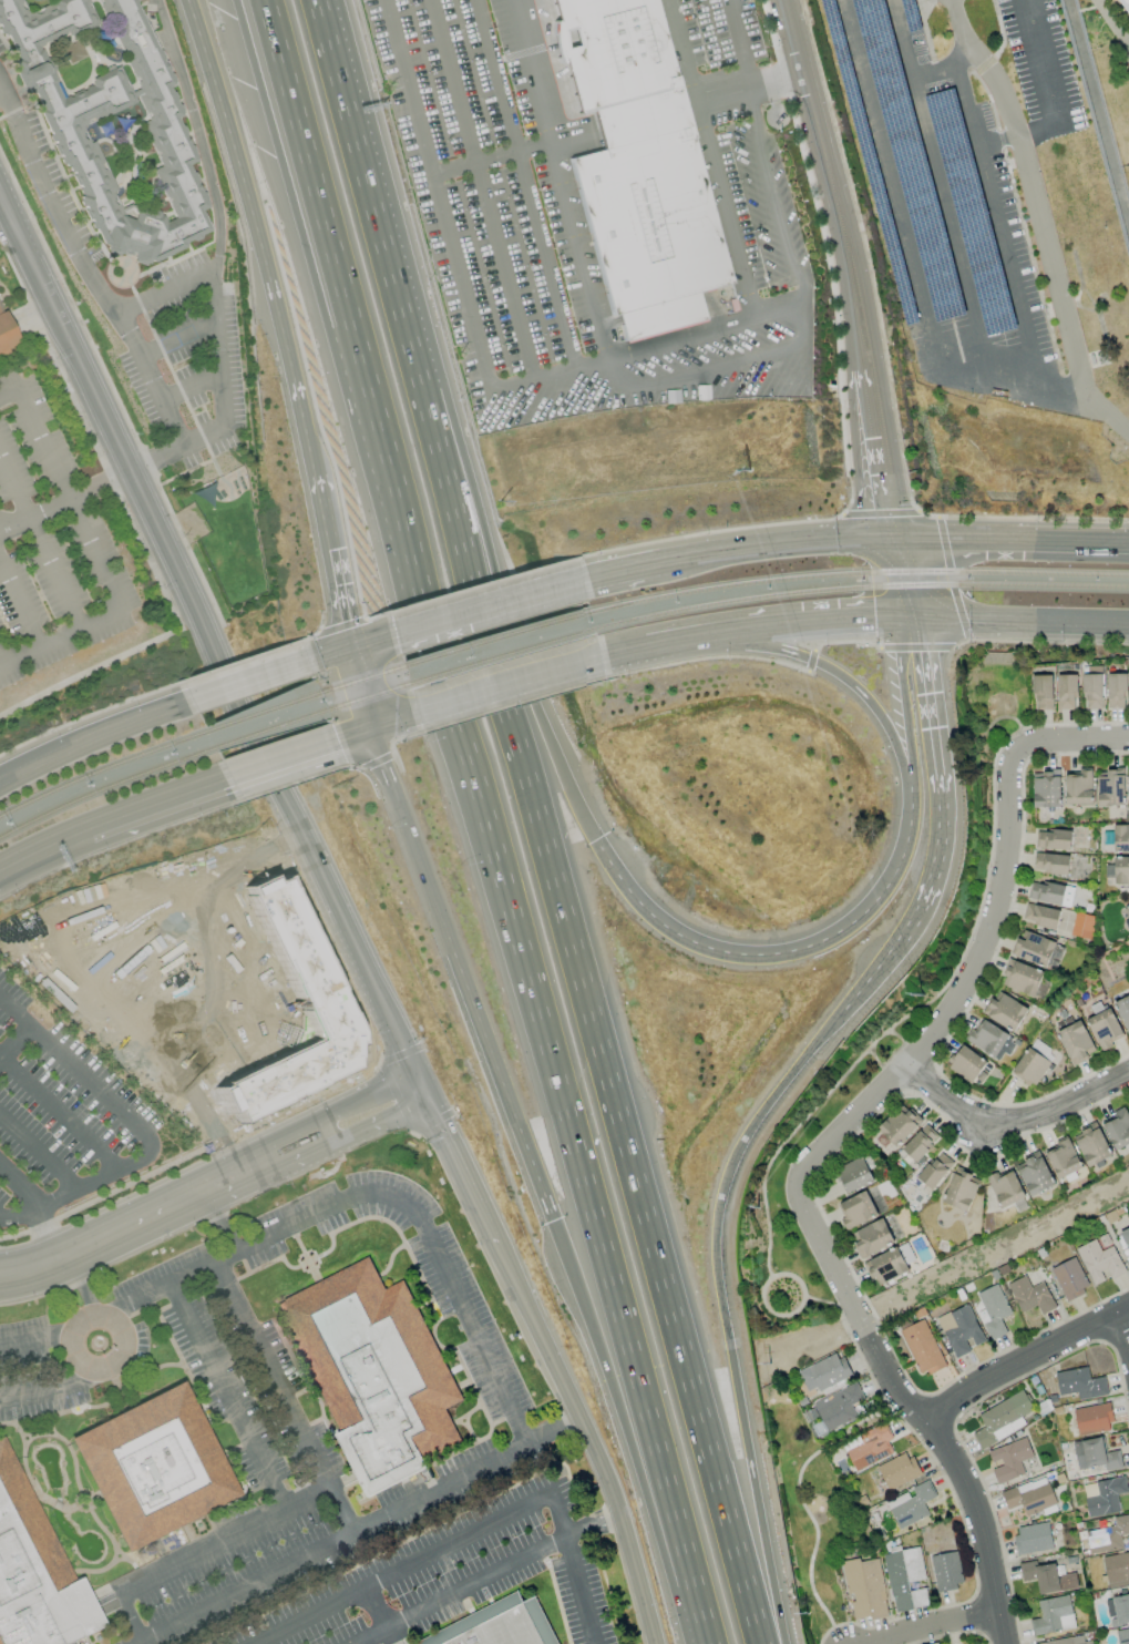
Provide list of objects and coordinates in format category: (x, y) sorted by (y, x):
building: (1126, 4)
road: (1108, 17)
road: (1040, 61)
road: (944, 68)
road: (741, 88)
road: (2, 90)
road: (638, 118)
building: (66, 132)
road: (574, 134)
road: (1017, 134)
road: (197, 135)
road: (492, 157)
building: (638, 167)
road: (239, 170)
road: (525, 183)
road: (940, 187)
road: (482, 190)
road: (368, 194)
road: (1032, 196)
road: (3, 216)
road: (730, 225)
road: (998, 225)
road: (910, 254)
road: (454, 258)
road: (84, 265)
road: (851, 265)
road: (164, 292)
road: (778, 306)
building: (6, 334)
road: (178, 337)
road: (217, 347)
road: (684, 372)
road: (192, 388)
road: (8, 396)
road: (299, 401)
road: (176, 448)
road: (381, 491)
road: (69, 501)
road: (65, 502)
road: (134, 529)
traffic signals: (946, 539)
road: (963, 539)
parking lot: (58, 540)
road: (1082, 541)
road: (40, 543)
road: (770, 545)
road: (331, 555)
road: (623, 570)
railway: (863, 573)
road: (907, 578)
road: (894, 579)
railway: (865, 588)
road: (493, 604)
road: (19, 607)
traffic signals: (879, 621)
road: (1014, 621)
traffic signals: (345, 623)
road: (810, 625)
road: (511, 629)
traffic signals: (394, 634)
railway: (502, 637)
road: (60, 639)
road: (372, 641)
road: (212, 642)
road: (684, 642)
traffic signals: (925, 649)
road: (335, 653)
road: (629, 653)
railway: (506, 655)
railway: (369, 677)
road: (253, 681)
road: (513, 684)
road: (361, 687)
building: (1092, 690)
building: (1116, 691)
building: (1043, 692)
building: (1066, 692)
road: (864, 694)
railway: (373, 695)
railway: (268, 711)
road: (1009, 717)
road: (393, 721)
road: (1074, 724)
railway: (275, 728)
road: (365, 729)
road: (909, 729)
traffic signals: (357, 733)
road: (92, 739)
road: (1012, 743)
road: (992, 748)
road: (290, 755)
railway: (100, 770)
building: (1128, 780)
road: (942, 785)
building: (1078, 787)
building: (1046, 788)
building: (1109, 788)
railway: (102, 790)
road: (484, 790)
road: (154, 800)
building: (1121, 837)
building: (1053, 839)
road: (41, 845)
road: (1003, 858)
building: (1050, 862)
road: (988, 867)
building: (1121, 869)
building: (1046, 892)
building: (1127, 910)
building: (1040, 915)
building: (1081, 926)
building: (1037, 950)
road: (768, 954)
building: (298, 959)
road: (464, 974)
road: (873, 977)
building: (1020, 977)
building: (1005, 1010)
building: (1123, 1011)
road: (591, 1015)
building: (1102, 1024)
road: (900, 1038)
building: (991, 1040)
building: (1074, 1040)
road: (14, 1042)
road: (901, 1058)
building: (966, 1063)
road: (880, 1064)
building: (1030, 1066)
road: (361, 1094)
road: (58, 1112)
parking lot: (66, 1113)
road: (1012, 1121)
road: (377, 1124)
building: (897, 1126)
road: (138, 1127)
building: (1117, 1127)
road: (789, 1137)
building: (920, 1143)
park: (787, 1144)
building: (1091, 1144)
road: (38, 1152)
building: (1063, 1158)
road: (266, 1162)
road: (459, 1167)
building: (935, 1170)
building: (854, 1174)
building: (1035, 1174)
road: (20, 1185)
building: (1005, 1187)
building: (959, 1189)
road: (379, 1194)
building: (856, 1209)
road: (818, 1232)
road: (47, 1233)
building: (1125, 1234)
building: (871, 1237)
road: (106, 1238)
building: (1099, 1262)
building: (886, 1265)
building: (1069, 1278)
road: (84, 1285)
building: (1030, 1295)
road: (62, 1296)
road: (723, 1309)
building: (992, 1310)
road: (771, 1311)
building: (963, 1331)
road: (73, 1339)
road: (1121, 1339)
road: (37, 1344)
building: (922, 1347)
road: (1023, 1358)
building: (824, 1372)
building: (374, 1374)
building: (1080, 1383)
road: (50, 1387)
road: (287, 1397)
road: (228, 1398)
road: (625, 1403)
building: (838, 1407)
building: (1002, 1419)
building: (1092, 1419)
road: (589, 1441)
building: (870, 1448)
building: (1095, 1454)
building: (1009, 1459)
building: (152, 1467)
building: (899, 1471)
building: (1030, 1497)
building: (1106, 1497)
road: (799, 1501)
building: (911, 1504)
road: (592, 1522)
road: (978, 1526)
road: (362, 1533)
building: (1108, 1535)
building: (1033, 1538)
road: (205, 1553)
road: (574, 1569)
building: (1117, 1569)
building: (946, 1570)
road: (404, 1571)
building: (34, 1573)
building: (1047, 1576)
building: (905, 1579)
building: (864, 1589)
building: (1128, 1589)
road: (458, 1590)
road: (381, 1606)
building: (1118, 1610)
road: (697, 1614)
building: (1054, 1615)
building: (500, 1625)
road: (936, 1627)
building: (1122, 1636)
building: (1067, 1641)
building: (937, 1643)

